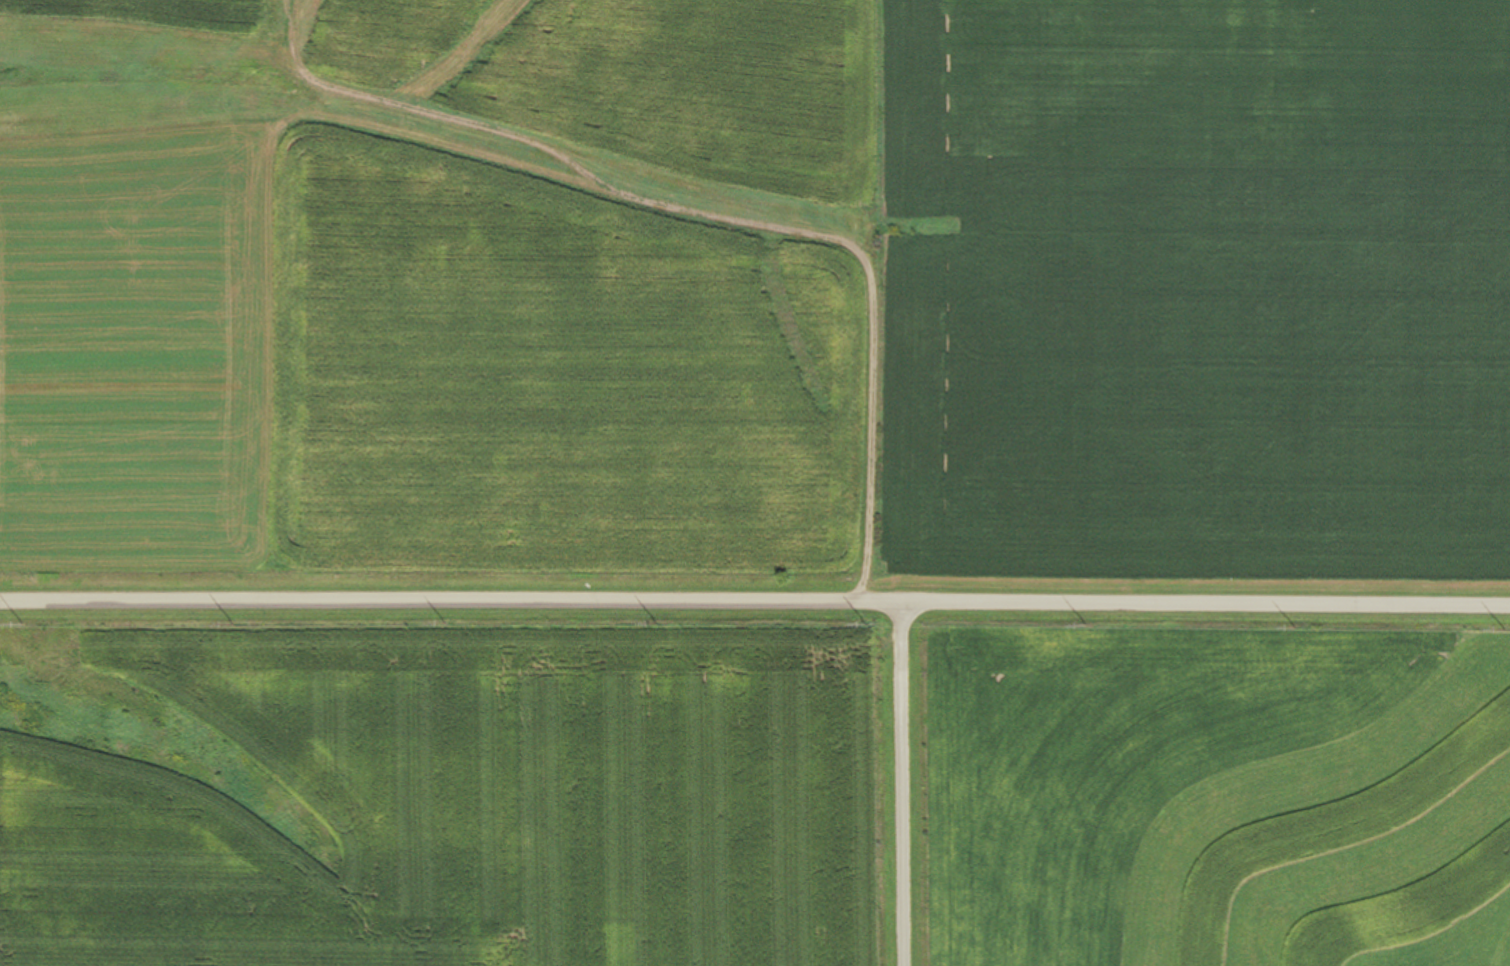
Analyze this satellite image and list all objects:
road: (754, 628)
road: (888, 796)

